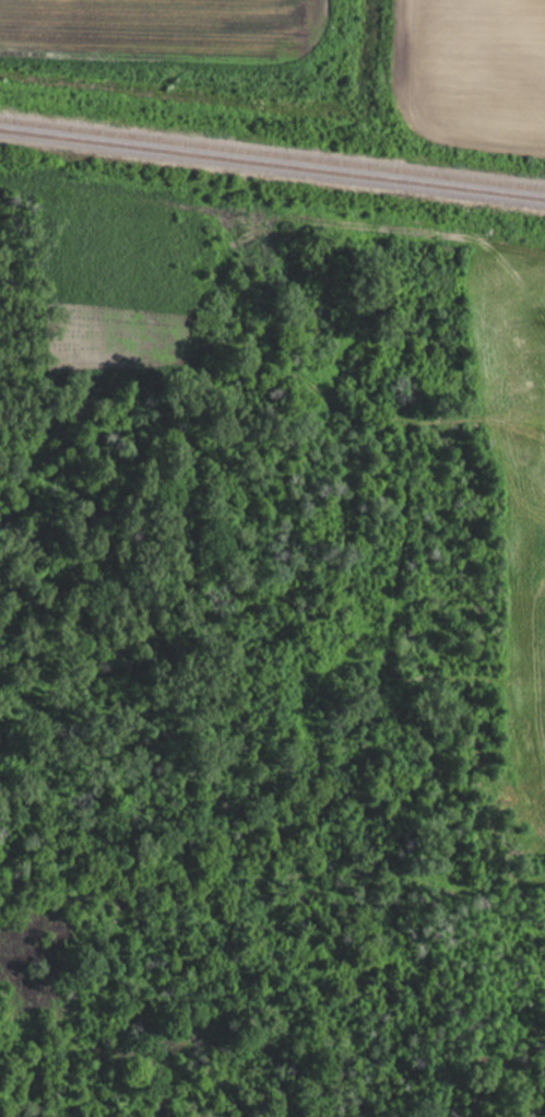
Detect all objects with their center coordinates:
railway: (272, 151)
railway: (272, 162)

